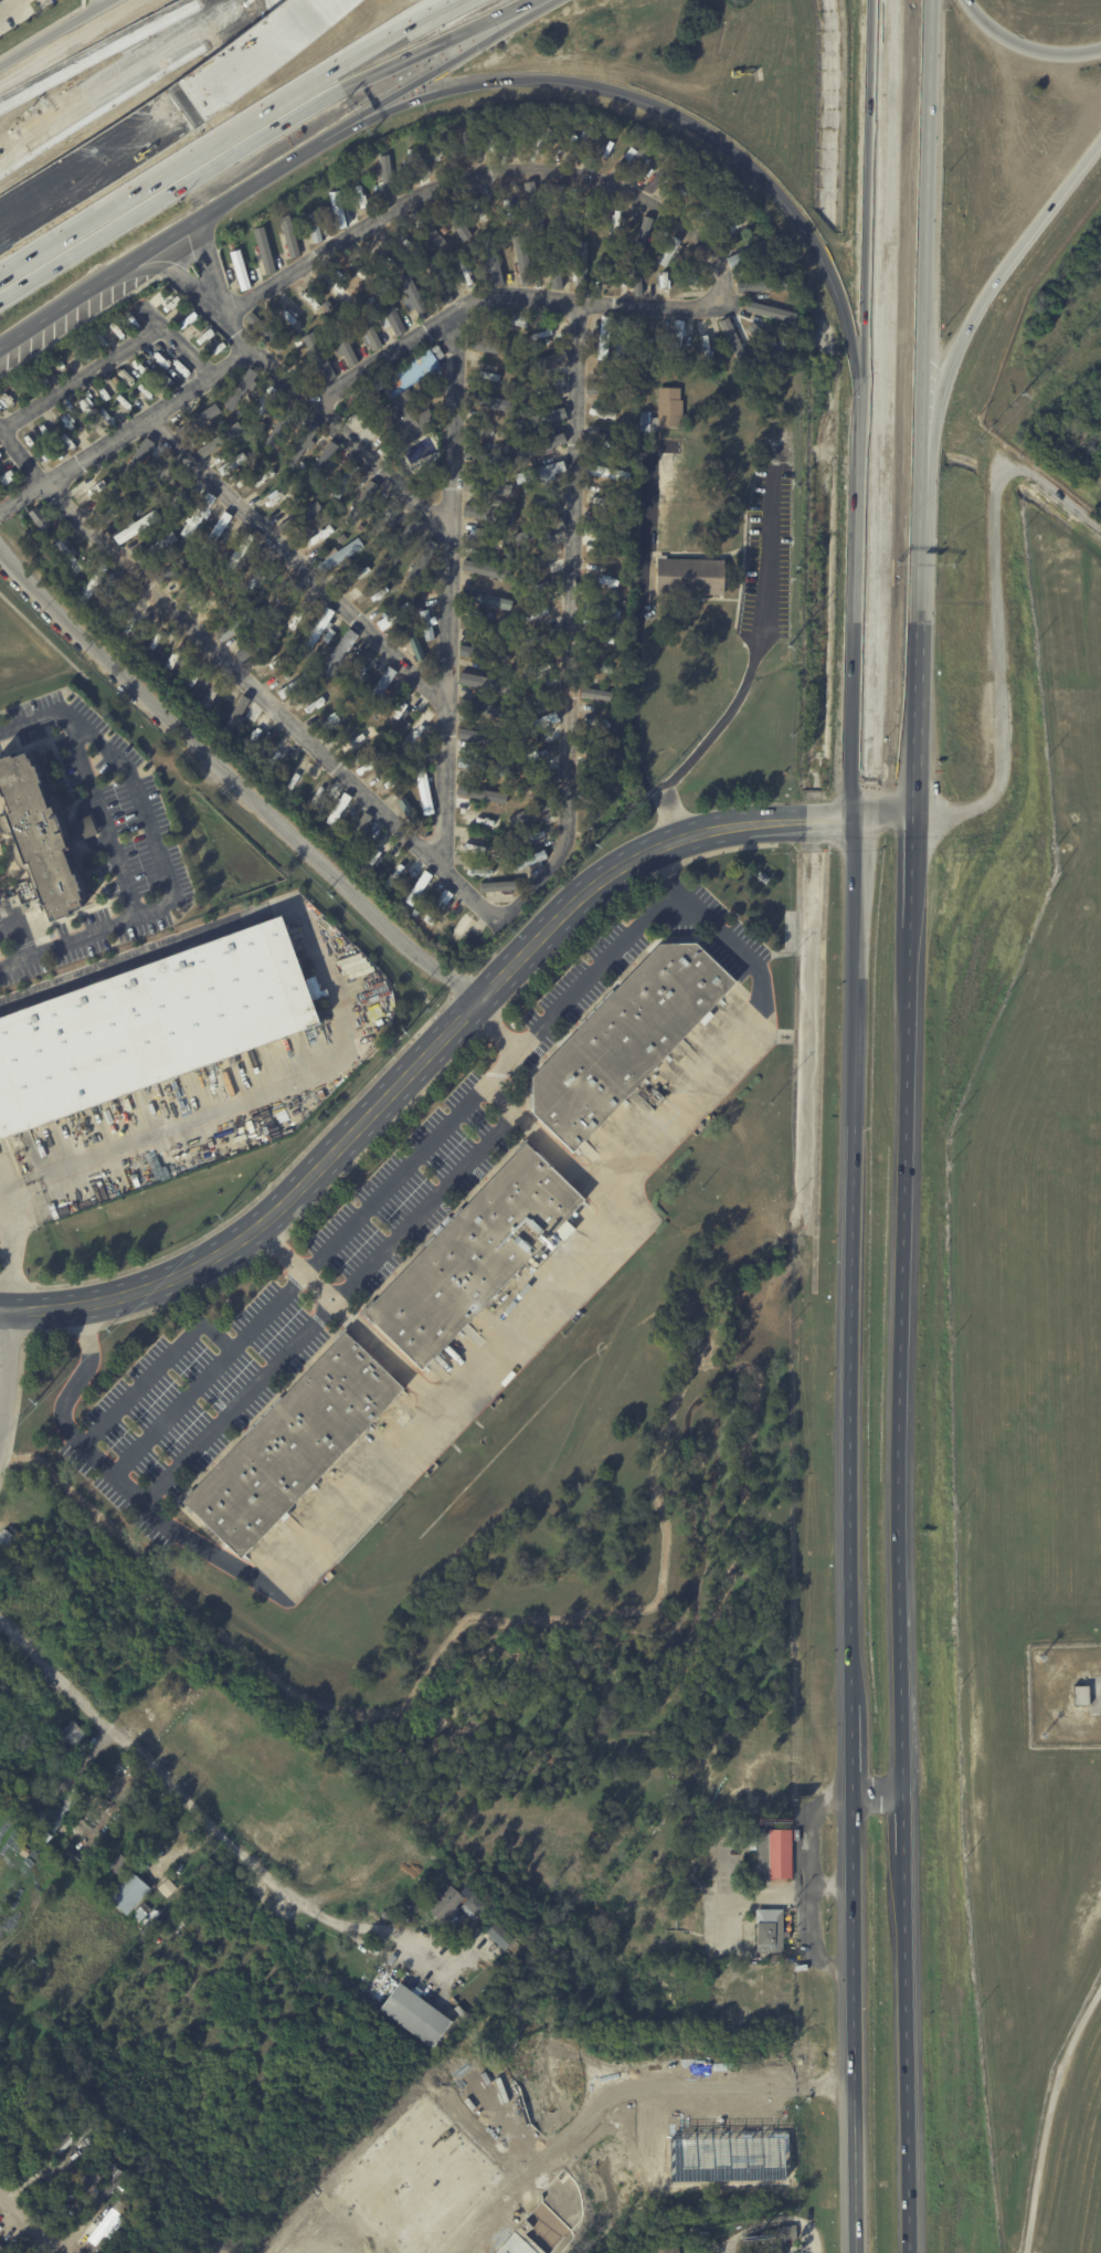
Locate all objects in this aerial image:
road: (98, 3)
road: (7, 4)
road: (80, 20)
road: (243, 45)
road: (1024, 46)
road: (105, 50)
road: (22, 55)
road: (271, 56)
road: (426, 69)
road: (120, 76)
building: (573, 123)
building: (603, 130)
road: (707, 135)
road: (230, 145)
building: (579, 147)
road: (92, 148)
building: (434, 157)
building: (373, 160)
building: (635, 164)
road: (99, 172)
building: (663, 176)
building: (388, 179)
road: (241, 188)
building: (363, 201)
building: (534, 207)
building: (339, 209)
building: (562, 209)
building: (615, 223)
building: (315, 227)
road: (924, 227)
building: (731, 230)
road: (689, 232)
building: (290, 235)
building: (643, 235)
building: (434, 236)
building: (248, 239)
building: (508, 241)
building: (567, 242)
road: (875, 244)
building: (233, 245)
building: (265, 250)
building: (670, 251)
building: (751, 252)
building: (523, 259)
building: (582, 264)
building: (241, 270)
building: (555, 270)
building: (437, 278)
building: (611, 280)
building: (692, 280)
building: (636, 281)
building: (666, 284)
building: (761, 284)
road: (991, 285)
road: (81, 292)
building: (413, 296)
building: (401, 303)
building: (389, 312)
building: (772, 312)
building: (509, 318)
building: (368, 330)
building: (265, 333)
building: (677, 334)
building: (791, 334)
building: (546, 335)
building: (602, 338)
road: (178, 340)
building: (732, 340)
building: (342, 343)
building: (652, 343)
building: (707, 343)
building: (769, 343)
building: (436, 351)
building: (543, 362)
building: (436, 372)
road: (81, 376)
building: (544, 388)
building: (240, 389)
road: (297, 391)
building: (6, 398)
building: (263, 401)
building: (493, 402)
building: (668, 407)
building: (205, 414)
building: (404, 419)
building: (221, 422)
building: (646, 424)
railway: (892, 430)
road: (127, 433)
building: (486, 434)
building: (212, 440)
building: (221, 440)
building: (300, 443)
building: (547, 443)
building: (605, 444)
building: (382, 451)
building: (326, 454)
road: (22, 455)
building: (490, 457)
building: (134, 462)
building: (233, 464)
building: (540, 472)
building: (605, 473)
building: (157, 476)
building: (261, 478)
building: (345, 482)
building: (488, 487)
building: (525, 491)
building: (180, 493)
building: (89, 494)
building: (280, 498)
building: (361, 503)
building: (511, 509)
building: (113, 512)
building: (137, 512)
building: (488, 514)
building: (199, 516)
building: (300, 516)
building: (39, 518)
building: (387, 520)
building: (134, 529)
building: (218, 531)
building: (605, 531)
building: (523, 536)
building: (341, 538)
building: (316, 539)
building: (481, 539)
building: (380, 547)
building: (156, 548)
building: (430, 548)
building: (237, 551)
building: (340, 555)
building: (67, 556)
road: (295, 559)
building: (420, 568)
building: (488, 569)
building: (194, 570)
building: (689, 575)
building: (599, 578)
building: (93, 583)
building: (197, 585)
building: (542, 586)
road: (448, 590)
building: (488, 601)
building: (622, 603)
building: (244, 604)
building: (214, 606)
road: (915, 610)
building: (299, 611)
building: (601, 611)
building: (540, 614)
building: (134, 615)
building: (395, 615)
road: (998, 622)
building: (239, 624)
building: (426, 625)
building: (483, 627)
building: (317, 629)
road: (569, 629)
building: (600, 641)
road: (753, 641)
building: (415, 646)
road: (637, 646)
road: (866, 651)
building: (338, 653)
building: (599, 654)
building: (252, 660)
building: (171, 664)
building: (361, 667)
building: (540, 668)
building: (599, 668)
building: (284, 676)
building: (294, 685)
building: (379, 691)
building: (213, 693)
building: (595, 693)
road: (264, 699)
building: (240, 708)
building: (485, 712)
building: (602, 723)
building: (537, 725)
building: (350, 728)
building: (258, 730)
building: (417, 733)
building: (476, 736)
building: (353, 745)
building: (277, 752)
building: (484, 768)
building: (297, 776)
road: (235, 778)
building: (393, 782)
building: (537, 782)
building: (601, 783)
road: (910, 788)
building: (424, 790)
building: (304, 791)
building: (317, 793)
building: (486, 794)
building: (460, 803)
building: (538, 809)
building: (339, 810)
building: (605, 811)
road: (887, 811)
traffic signals: (910, 811)
traffic signals: (864, 812)
road: (142, 813)
building: (502, 814)
building: (516, 819)
building: (479, 821)
building: (361, 824)
building: (84, 827)
building: (543, 832)
building: (39, 834)
building: (470, 841)
building: (473, 850)
road: (648, 851)
road: (113, 852)
building: (530, 861)
road: (664, 861)
building: (400, 865)
building: (483, 871)
building: (420, 886)
building: (500, 887)
road: (669, 888)
building: (440, 909)
building: (460, 930)
road: (751, 961)
building: (148, 1022)
road: (495, 1027)
building: (628, 1040)
road: (505, 1062)
road: (538, 1137)
road: (118, 1146)
building: (587, 1150)
road: (11, 1188)
road: (272, 1207)
building: (479, 1253)
road: (295, 1283)
road: (328, 1307)
road: (346, 1315)
road: (1, 1326)
road: (86, 1326)
road: (721, 1364)
road: (153, 1369)
road: (458, 1388)
building: (296, 1444)
road: (6, 1459)
airport: (1037, 1468)
road: (128, 1488)
park: (552, 1508)
road: (848, 1531)
road: (899, 1531)
road: (684, 1667)
road: (425, 1673)
building: (1079, 1694)
road: (407, 1716)
road: (416, 1733)
building: (73, 1734)
park: (248, 1772)
road: (166, 1777)
road: (877, 1794)
building: (66, 1808)
building: (41, 1820)
building: (49, 1838)
building: (571, 1852)
building: (779, 1854)
building: (119, 1863)
building: (166, 1886)
building: (131, 1893)
building: (448, 1904)
building: (475, 1905)
building: (149, 1907)
building: (387, 1914)
building: (775, 1929)
building: (500, 1937)
road: (411, 1951)
road: (432, 1958)
building: (420, 2013)
park: (231, 2046)
road: (625, 2091)
road: (714, 2114)
road: (1048, 2115)
road: (501, 2123)
road: (646, 2129)
building: (92, 2143)
building: (62, 2146)
building: (110, 2183)
building: (287, 2223)
road: (28, 2225)
building: (779, 2235)
road: (328, 2245)
building: (663, 2247)
building: (629, 2249)
building: (766, 2250)
building: (289, 2251)

